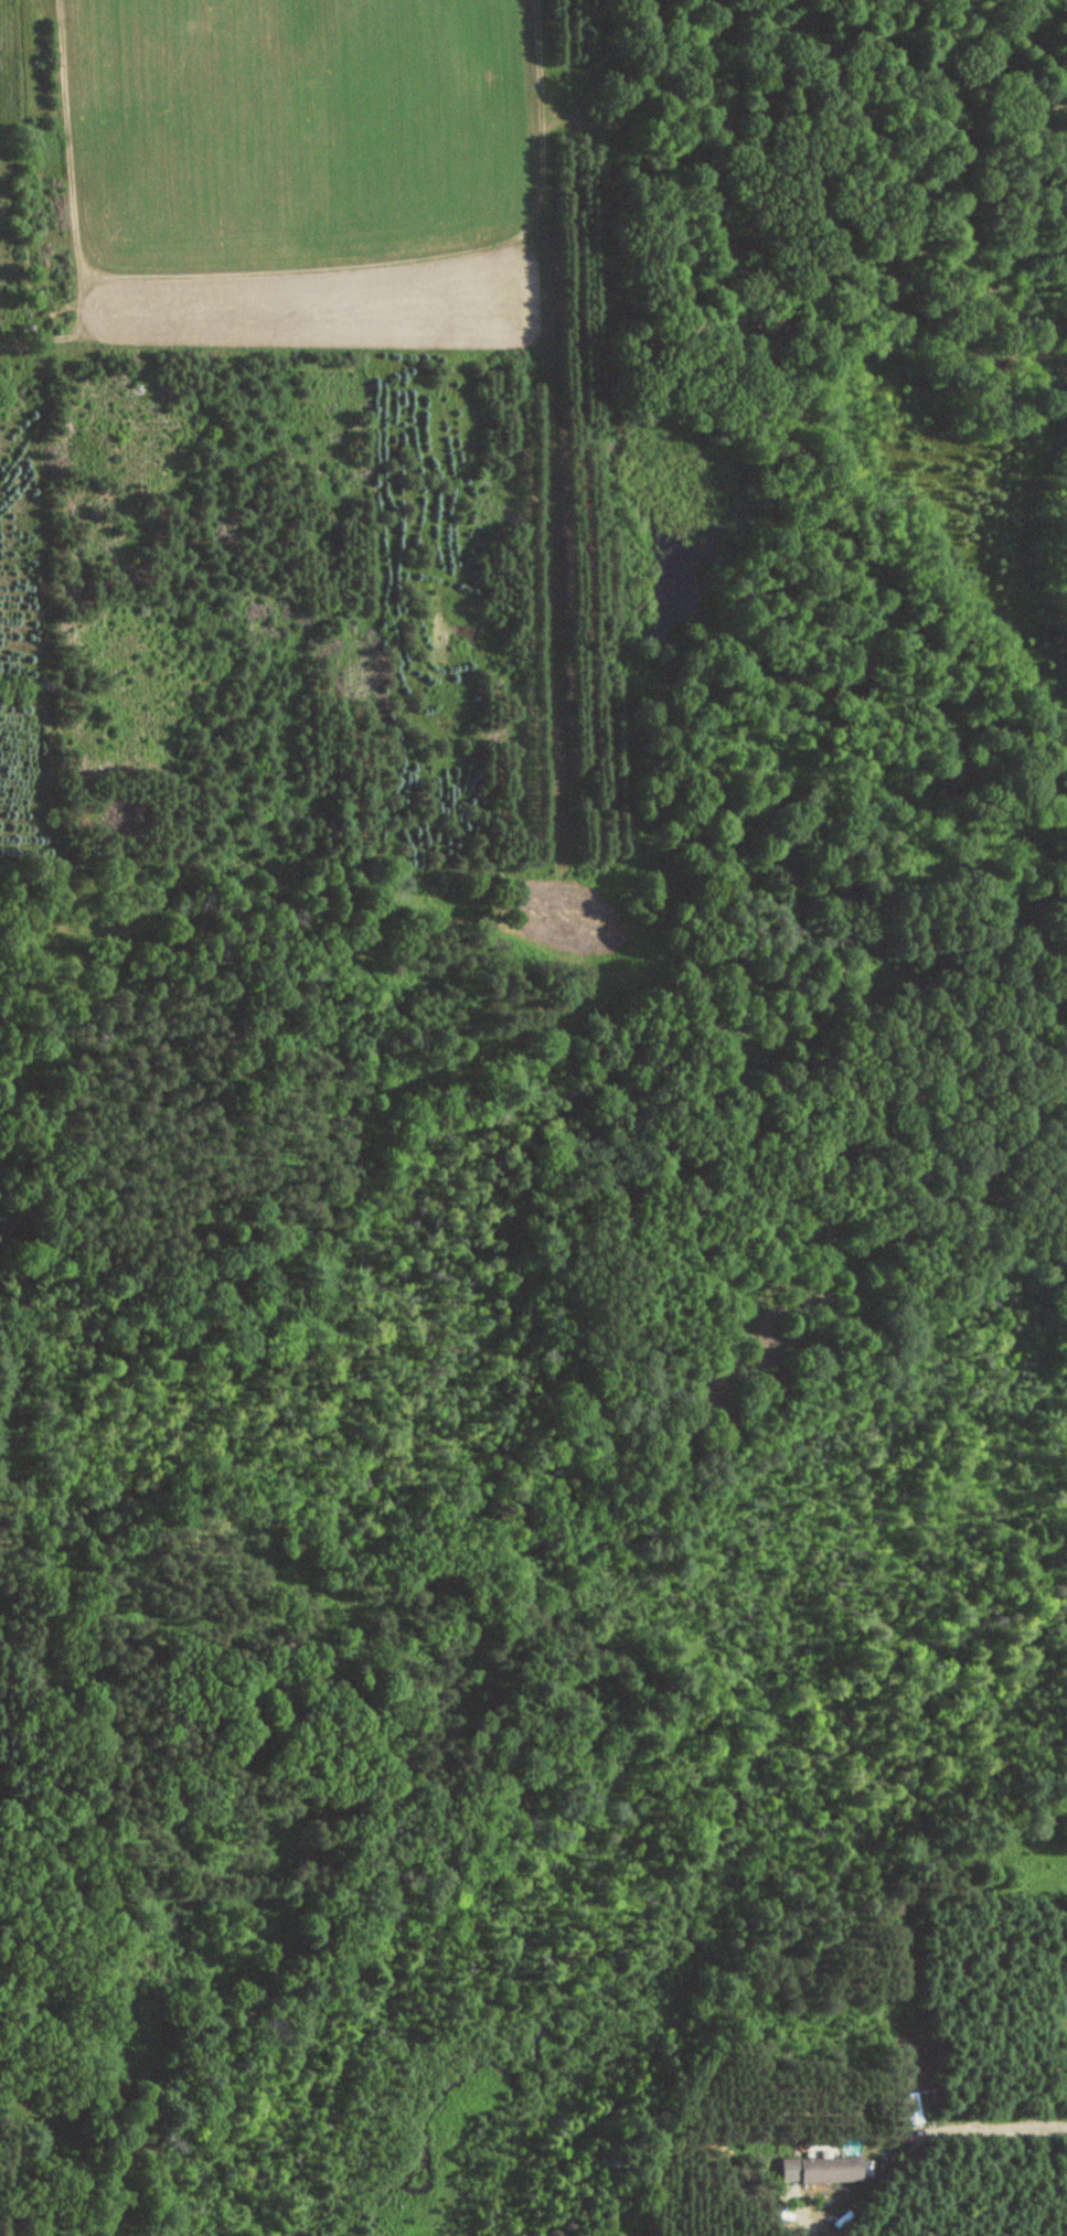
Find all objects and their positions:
building: (819, 2170)

